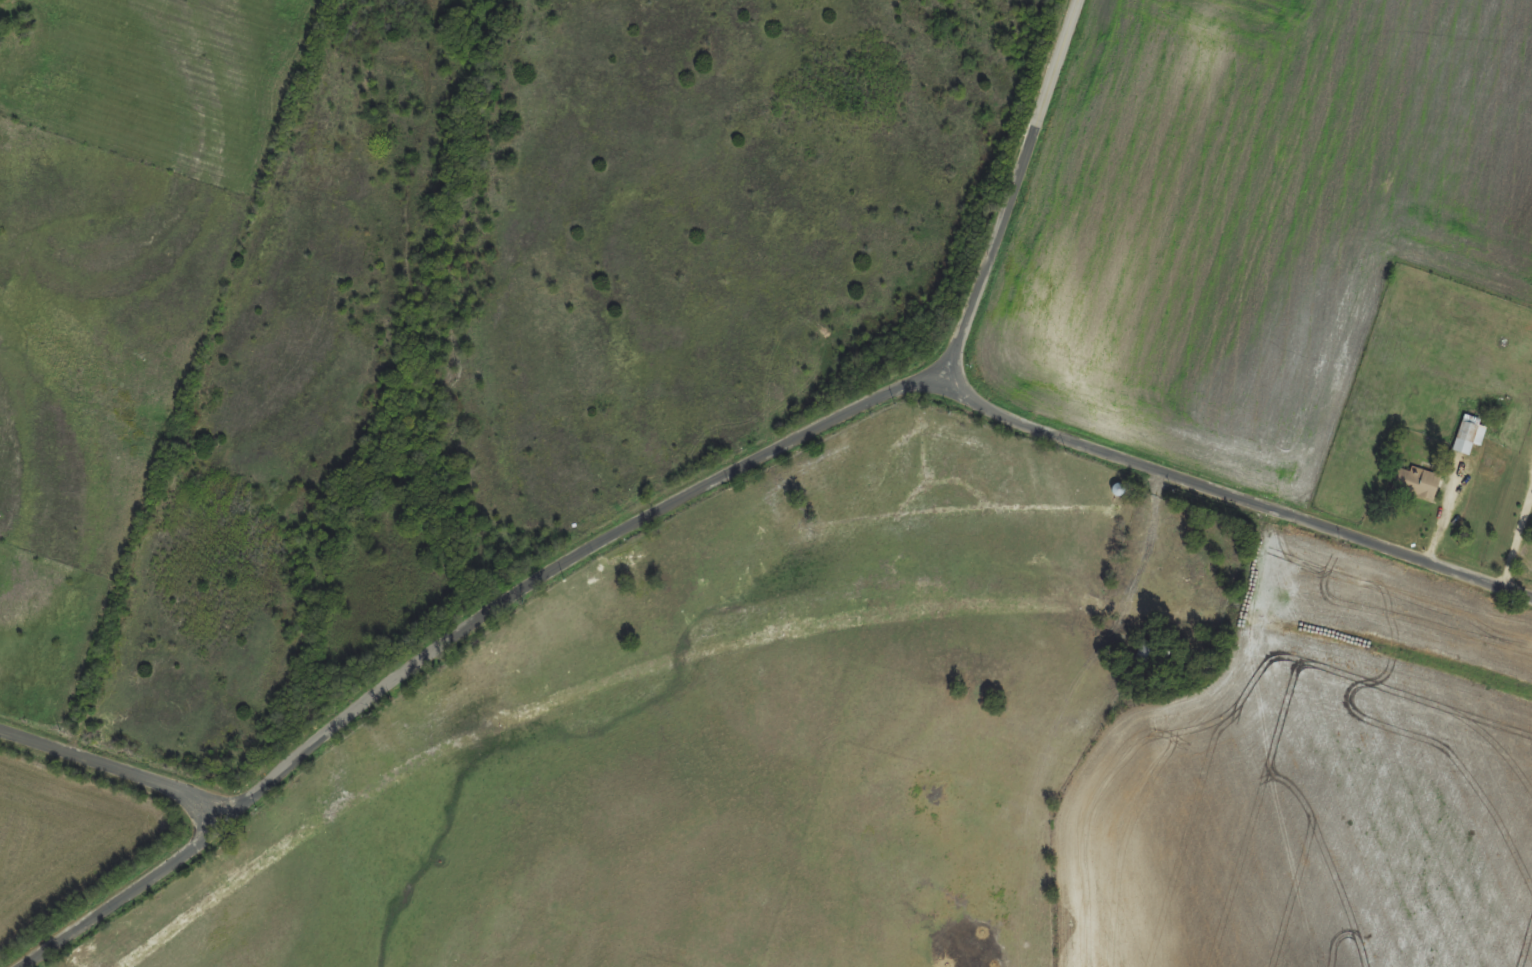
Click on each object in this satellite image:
building: (1470, 436)
building: (1416, 482)
building: (1119, 491)
road: (1242, 588)
road: (767, 610)
road: (133, 785)

